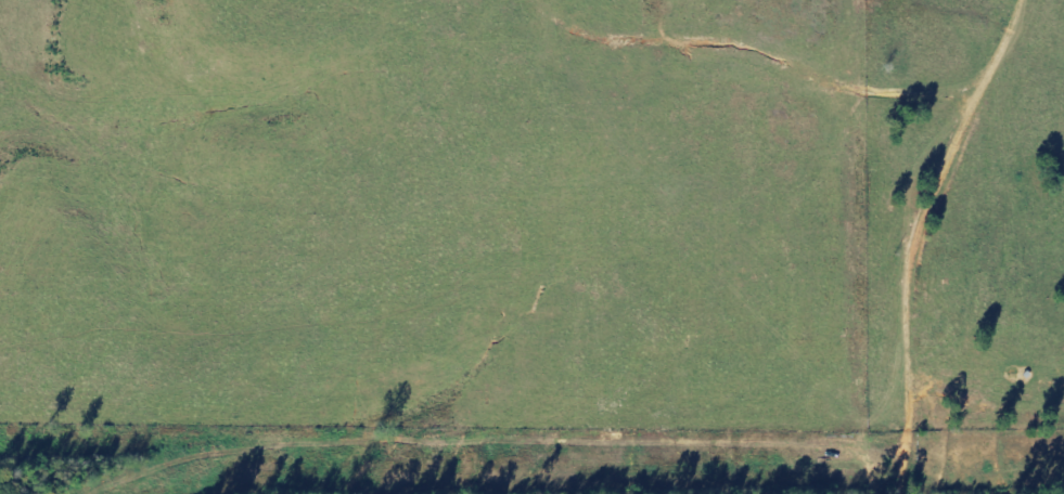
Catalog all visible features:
road: (970, 239)

